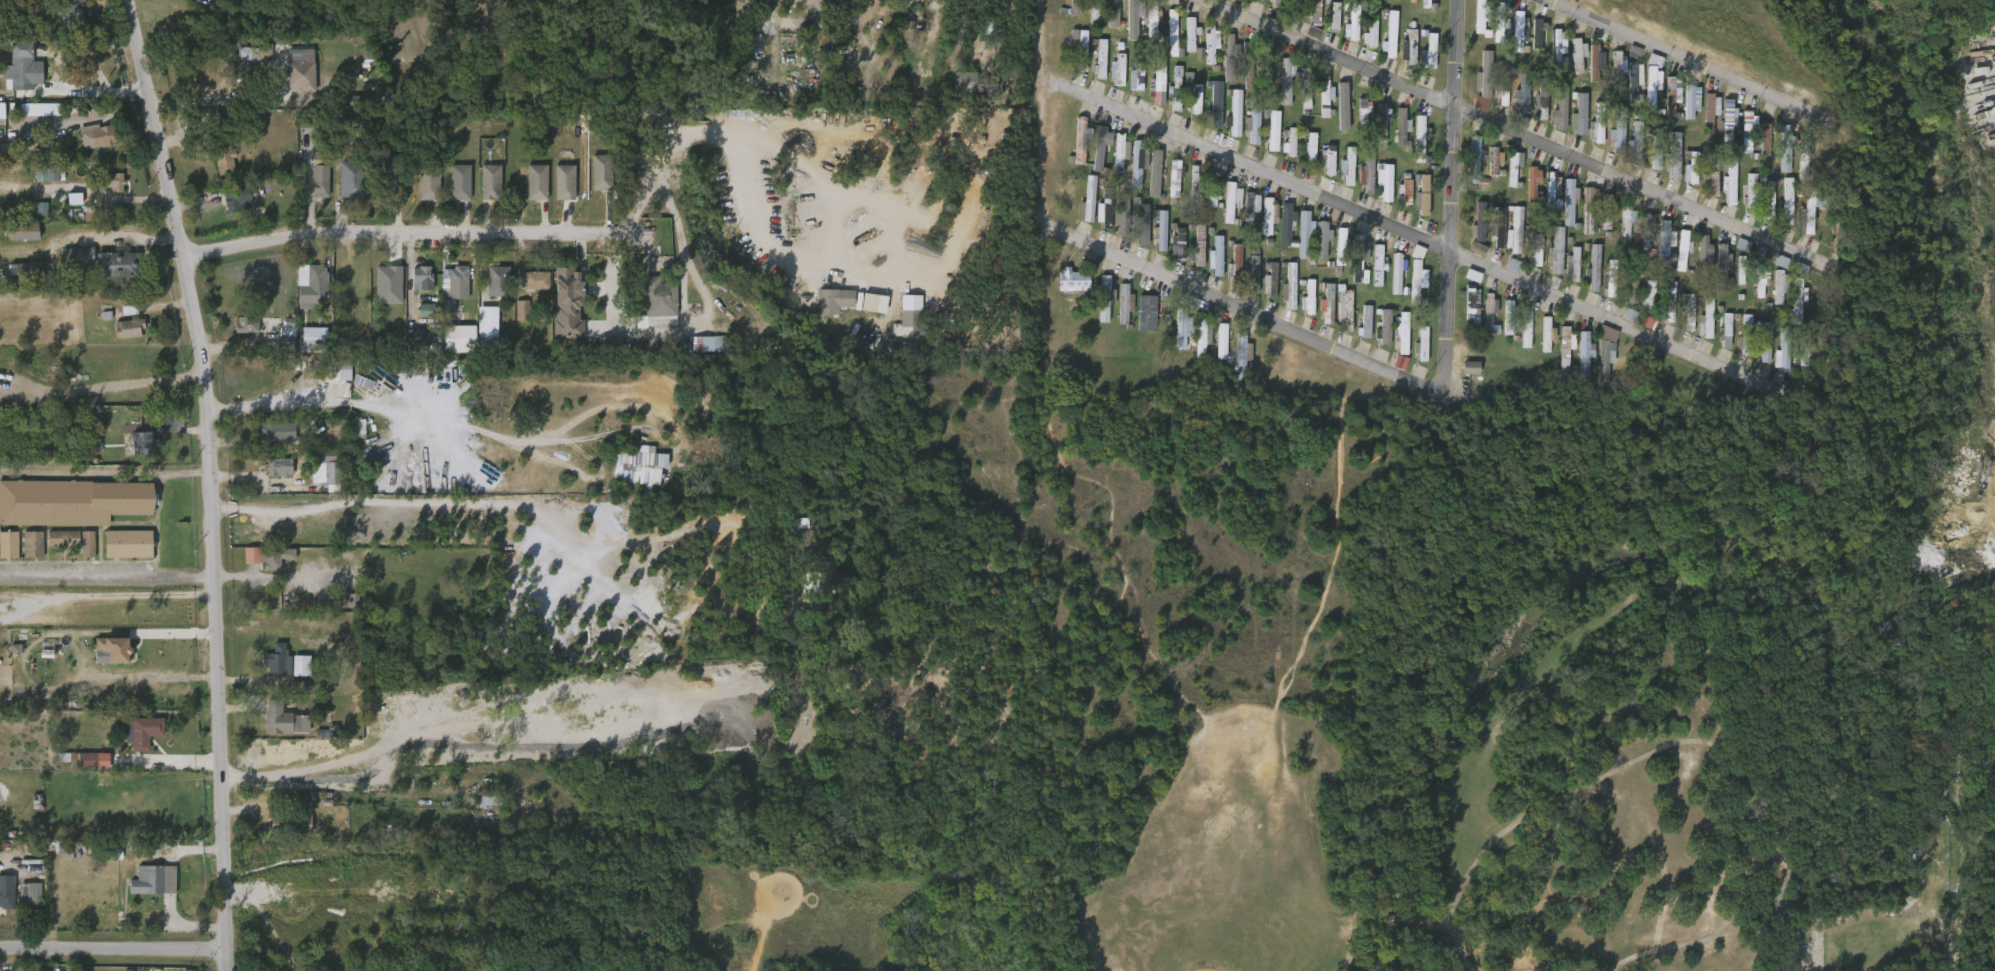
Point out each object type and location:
building: (795, 0)
building: (1276, 3)
building: (1387, 3)
building: (1398, 3)
building: (1249, 4)
building: (1296, 5)
building: (1074, 6)
building: (1265, 6)
building: (1418, 8)
building: (1114, 11)
building: (1313, 11)
building: (62, 14)
building: (1067, 15)
building: (1478, 15)
building: (1105, 18)
building: (1130, 19)
building: (1152, 21)
building: (1497, 21)
building: (54, 23)
building: (1307, 26)
building: (1370, 26)
building: (1124, 28)
building: (1327, 28)
building: (1517, 29)
building: (1491, 31)
building: (1188, 33)
building: (1389, 34)
building: (1172, 36)
building: (1143, 37)
building: (1536, 37)
building: (1343, 38)
building: (1363, 38)
building: (1511, 40)
building: (752, 42)
building: (1163, 42)
building: (1305, 42)
building: (1209, 43)
building: (1529, 43)
building: (1556, 43)
building: (1182, 44)
building: (1409, 44)
building: (1382, 46)
building: (1079, 48)
building: (1432, 49)
building: (1576, 53)
building: (1202, 55)
road: (71, 56)
building: (1221, 56)
building: (1228, 56)
building: (1401, 56)
building: (1548, 56)
building: (1099, 58)
building: (1421, 62)
building: (1595, 62)
building: (1191, 63)
building: (1249, 64)
building: (26, 65)
building: (246, 65)
building: (1267, 66)
building: (1568, 66)
building: (1093, 68)
building: (1588, 68)
building: (1609, 71)
building: (305, 72)
building: (1135, 75)
building: (1482, 75)
building: (1110, 80)
building: (1157, 80)
building: (1284, 80)
building: (1634, 82)
building: (1651, 85)
building: (1305, 86)
building: (1626, 89)
building: (1128, 90)
building: (1278, 91)
building: (1150, 92)
building: (1475, 92)
building: (966, 93)
building: (1520, 94)
building: (1671, 95)
building: (1324, 96)
building: (1167, 99)
building: (1540, 100)
building: (1343, 101)
building: (1297, 102)
building: (1214, 103)
building: (1317, 106)
building: (1514, 107)
building: (1559, 107)
building: (1188, 109)
building: (1683, 111)
building: (1233, 113)
building: (1580, 113)
road: (1038, 114)
building: (1208, 114)
building: (1335, 115)
building: (1531, 115)
building: (1707, 116)
building: (1728, 118)
building: (33, 119)
building: (1700, 119)
building: (1356, 121)
building: (1227, 122)
building: (1597, 124)
building: (1373, 125)
building: (1552, 125)
building: (1571, 127)
building: (1401, 128)
building: (1720, 129)
building: (1617, 130)
building: (1748, 130)
building: (1392, 133)
road: (1522, 133)
building: (1244, 134)
building: (1268, 135)
building: (1766, 135)
building: (99, 136)
building: (1420, 137)
building: (1082, 138)
building: (1634, 139)
building: (1588, 141)
building: (1739, 141)
building: (1609, 143)
building: (220, 144)
building: (91, 145)
building: (1100, 145)
building: (1783, 147)
building: (1626, 148)
building: (1655, 148)
building: (1308, 149)
building: (1411, 149)
building: (1756, 149)
building: (3, 150)
building: (1072, 150)
building: (1281, 153)
building: (1121, 154)
building: (1092, 155)
building: (1674, 155)
building: (1804, 155)
building: (1326, 159)
building: (1493, 160)
building: (1776, 160)
building: (1474, 161)
building: (1110, 163)
building: (1136, 163)
building: (1666, 165)
building: (1346, 166)
building: (1466, 169)
building: (1319, 170)
building: (1366, 170)
building: (1486, 170)
building: (1711, 170)
building: (601, 171)
building: (392, 172)
building: (1128, 173)
building: (1155, 173)
building: (217, 174)
building: (1339, 176)
building: (1175, 177)
building: (1505, 177)
building: (321, 178)
building: (430, 181)
building: (460, 181)
building: (490, 181)
building: (537, 181)
building: (565, 181)
building: (1732, 181)
building: (593, 182)
building: (39, 183)
building: (1147, 183)
building: (1193, 183)
building: (1385, 183)
building: (1533, 183)
building: (1682, 183)
building: (1185, 185)
building: (1551, 187)
building: (1166, 188)
building: (352, 189)
building: (1212, 189)
building: (1751, 190)
building: (313, 191)
building: (1358, 191)
building: (1721, 191)
building: (107, 192)
building: (453, 192)
building: (483, 192)
building: (529, 192)
building: (557, 192)
building: (1524, 193)
building: (1705, 193)
building: (422, 195)
building: (1421, 195)
building: (1768, 196)
building: (236, 198)
building: (1088, 198)
building: (1376, 198)
building: (1541, 198)
building: (1230, 200)
building: (1742, 200)
building: (1397, 201)
building: (1568, 201)
building: (1787, 201)
building: (1415, 206)
building: (1760, 206)
building: (1103, 207)
building: (229, 209)
building: (1809, 209)
building: (1079, 210)
building: (1203, 210)
building: (1589, 210)
building: (1779, 210)
building: (1223, 211)
building: (1607, 211)
building: (1560, 212)
building: (1120, 214)
building: (1270, 214)
building: (1243, 215)
building: (35, 218)
building: (1097, 219)
building: (1600, 221)
building: (1478, 222)
building: (1659, 222)
building: (1801, 222)
building: (1625, 224)
building: (1141, 225)
building: (1288, 225)
building: (1259, 226)
building: (1497, 227)
building: (1647, 228)
building: (21, 230)
building: (1159, 230)
building: (1514, 230)
building: (1470, 233)
building: (1618, 233)
building: (1135, 234)
building: (1276, 234)
building: (1303, 234)
building: (1490, 236)
building: (1152, 238)
building: (1320, 239)
building: (1663, 241)
building: (1507, 242)
building: (16, 243)
building: (1296, 243)
road: (413, 245)
building: (1341, 246)
building: (1195, 248)
building: (1534, 249)
building: (1682, 249)
building: (1313, 250)
building: (1555, 251)
building: (1170, 252)
building: (1703, 253)
building: (1213, 254)
building: (1191, 255)
building: (1734, 255)
building: (79, 256)
building: (1357, 257)
building: (1469, 259)
building: (1673, 260)
building: (1547, 261)
building: (1696, 261)
building: (1753, 262)
building: (1574, 263)
building: (119, 264)
building: (1233, 265)
building: (1376, 265)
building: (1208, 266)
building: (1720, 266)
building: (70, 267)
building: (1526, 267)
building: (1593, 267)
building: (1349, 268)
building: (1714, 270)
building: (24, 271)
road: (787, 271)
building: (1772, 271)
building: (1252, 272)
building: (1398, 272)
building: (1226, 273)
building: (455, 274)
building: (1564, 274)
building: (1369, 275)
building: (1505, 275)
building: (421, 276)
building: (1585, 276)
building: (1792, 277)
building: (1609, 279)
building: (1760, 279)
building: (15, 280)
building: (536, 280)
building: (1071, 280)
building: (1731, 280)
building: (498, 281)
building: (1417, 282)
building: (311, 283)
building: (1388, 283)
building: (1291, 285)
building: (1631, 285)
building: (1778, 285)
building: (1244, 286)
building: (1409, 287)
building: (414, 288)
building: (1263, 289)
building: (529, 290)
building: (489, 291)
building: (1066, 291)
building: (1751, 293)
building: (1281, 296)
building: (1307, 297)
building: (1599, 297)
building: (1647, 297)
building: (1770, 297)
building: (1103, 298)
building: (1623, 299)
building: (836, 300)
building: (662, 301)
building: (1797, 301)
building: (1661, 302)
building: (1668, 302)
building: (1126, 303)
building: (454, 307)
building: (1300, 307)
building: (1639, 307)
building: (1095, 309)
building: (826, 310)
building: (1348, 310)
building: (1789, 310)
building: (1488, 311)
building: (1688, 311)
building: (1145, 312)
building: (866, 313)
building: (1117, 313)
building: (1320, 313)
building: (560, 314)
building: (1463, 314)
building: (441, 315)
building: (122, 319)
building: (514, 319)
building: (1337, 319)
building: (1706, 319)
building: (419, 320)
building: (916, 322)
building: (1482, 322)
building: (1680, 322)
building: (1138, 323)
building: (247, 324)
building: (901, 326)
building: (1181, 327)
building: (1524, 327)
building: (128, 328)
building: (1383, 329)
building: (1697, 329)
building: (1725, 331)
building: (480, 332)
building: (1401, 332)
building: (240, 335)
building: (1744, 335)
road: (678, 336)
building: (1200, 336)
building: (1376, 337)
building: (121, 339)
building: (281, 340)
building: (1518, 340)
building: (1174, 341)
building: (1717, 341)
building: (1764, 341)
building: (706, 343)
building: (1393, 343)
building: (1537, 344)
building: (315, 345)
building: (926, 347)
building: (1192, 347)
building: (1564, 349)
building: (446, 350)
building: (1756, 350)
building: (1213, 351)
building: (1781, 351)
building: (603, 352)
road: (1695, 353)
building: (703, 354)
building: (1413, 354)
building: (1583, 354)
building: (305, 355)
building: (900, 355)
building: (1805, 356)
building: (1240, 357)
building: (1604, 357)
building: (1575, 360)
building: (1556, 361)
building: (1773, 365)
building: (1232, 366)
building: (1597, 367)
building: (338, 371)
building: (1462, 377)
building: (336, 382)
road: (1427, 392)
road: (343, 399)
building: (276, 431)
building: (270, 441)
building: (145, 444)
building: (278, 466)
building: (327, 474)
building: (272, 476)
building: (629, 477)
road: (214, 481)
building: (317, 482)
building: (73, 502)
building: (62, 538)
building: (127, 543)
building: (32, 544)
building: (86, 544)
building: (8, 545)
building: (275, 557)
building: (262, 566)
road: (108, 575)
building: (106, 658)
building: (279, 659)
building: (271, 670)
park: (1394, 686)
building: (279, 719)
building: (277, 730)
building: (147, 731)
building: (136, 741)
road: (1677, 743)
building: (80, 769)
building: (29, 810)
building: (288, 822)
building: (283, 833)
building: (153, 881)
building: (7, 898)
building: (24, 902)
park: (1208, 916)
road: (1398, 920)
road: (112, 948)

